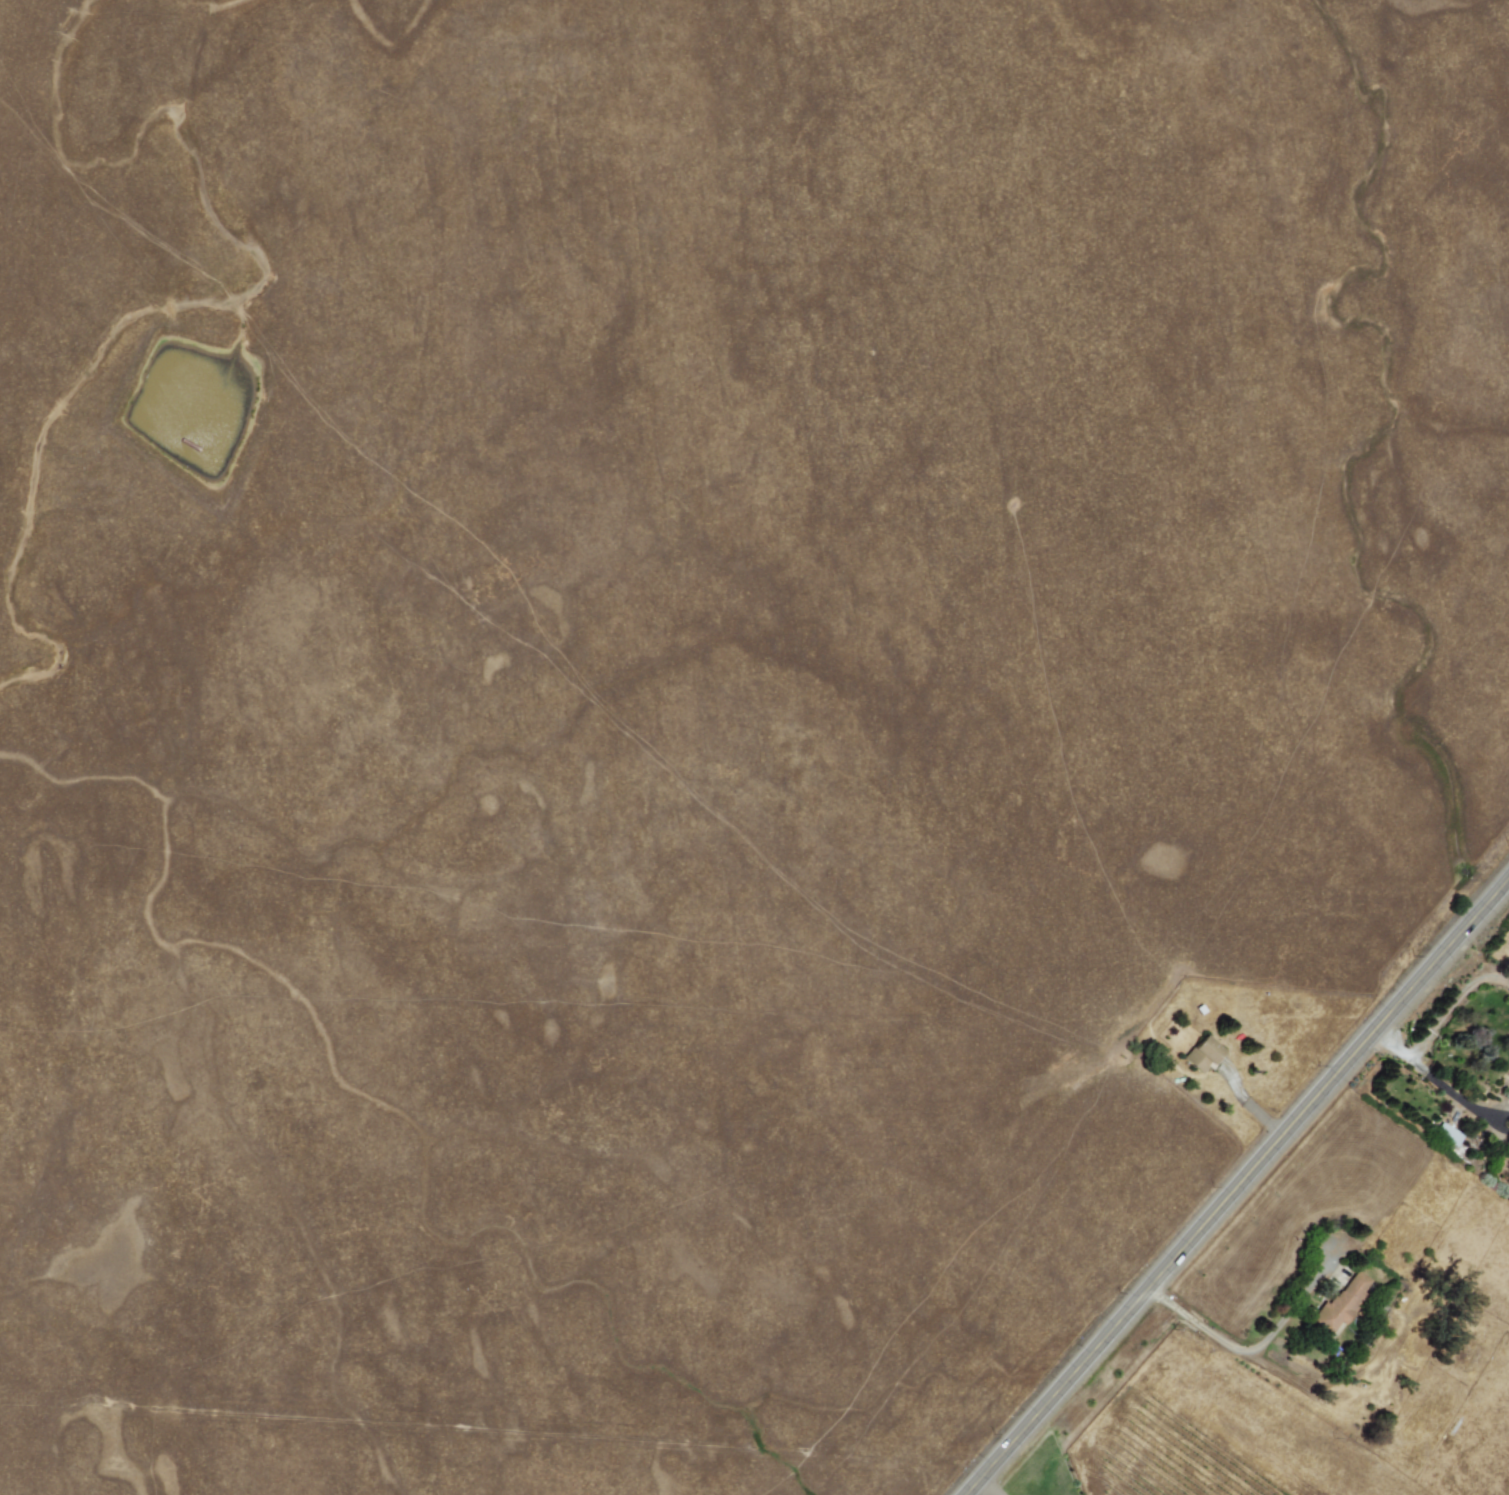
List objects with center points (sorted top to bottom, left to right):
road: (1451, 1004)
building: (1202, 1055)
road: (1440, 1087)
building: (1447, 1135)
road: (1238, 1193)
building: (1342, 1303)
road: (1250, 1347)
road: (985, 1487)

